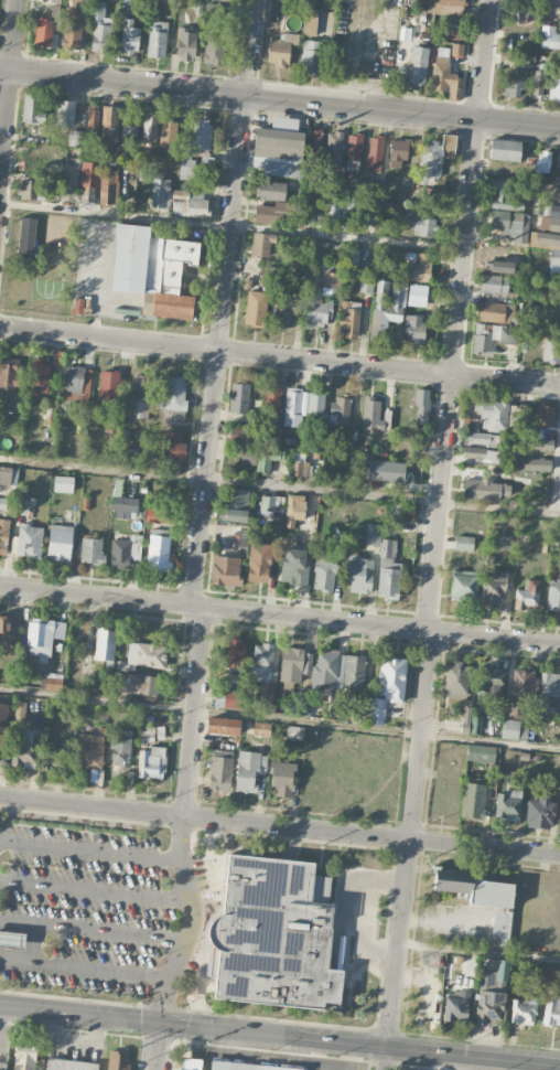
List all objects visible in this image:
building: (171, 0)
road: (552, 0)
building: (80, 1)
building: (310, 1)
building: (55, 4)
building: (214, 11)
building: (517, 14)
building: (451, 19)
building: (310, 22)
building: (100, 29)
building: (43, 30)
building: (72, 34)
building: (550, 35)
building: (157, 39)
building: (129, 40)
building: (186, 44)
building: (457, 49)
building: (279, 50)
building: (214, 51)
building: (310, 56)
road: (484, 60)
building: (417, 64)
building: (444, 77)
building: (538, 84)
building: (554, 85)
building: (510, 86)
road: (9, 90)
road: (280, 97)
building: (29, 107)
building: (65, 113)
building: (91, 119)
building: (109, 124)
building: (129, 125)
building: (149, 128)
building: (168, 133)
building: (74, 138)
building: (202, 139)
building: (314, 141)
building: (277, 146)
building: (333, 148)
building: (398, 149)
building: (353, 150)
building: (505, 150)
building: (375, 152)
building: (435, 156)
building: (57, 159)
building: (33, 161)
building: (541, 162)
building: (185, 167)
building: (559, 169)
building: (79, 181)
building: (29, 189)
building: (108, 189)
building: (374, 189)
building: (524, 190)
building: (551, 192)
building: (503, 195)
building: (179, 199)
building: (270, 203)
building: (306, 206)
building: (334, 210)
building: (392, 210)
building: (365, 213)
building: (549, 221)
building: (421, 224)
building: (510, 224)
building: (29, 226)
road: (231, 226)
road: (229, 238)
building: (262, 244)
building: (554, 257)
building: (352, 259)
building: (418, 268)
building: (152, 270)
building: (331, 279)
building: (494, 283)
building: (366, 285)
building: (256, 308)
building: (387, 308)
building: (542, 308)
building: (317, 309)
building: (283, 310)
building: (495, 311)
building: (348, 319)
building: (413, 329)
building: (491, 336)
building: (551, 351)
road: (280, 357)
road: (452, 374)
building: (9, 381)
building: (39, 381)
building: (76, 383)
building: (108, 385)
building: (139, 396)
building: (239, 397)
building: (174, 398)
building: (272, 399)
building: (315, 405)
building: (421, 405)
building: (292, 406)
building: (340, 408)
building: (371, 413)
building: (515, 415)
building: (493, 416)
building: (546, 416)
building: (473, 425)
building: (110, 427)
building: (238, 434)
building: (482, 438)
building: (541, 445)
building: (174, 446)
building: (480, 453)
building: (249, 457)
building: (268, 459)
building: (534, 463)
building: (299, 467)
road: (103, 469)
building: (6, 475)
road: (206, 480)
building: (65, 483)
building: (483, 485)
road: (558, 494)
road: (383, 499)
building: (2, 503)
building: (234, 505)
building: (271, 505)
building: (294, 506)
building: (123, 507)
building: (406, 511)
building: (158, 514)
building: (373, 534)
building: (3, 535)
building: (28, 541)
building: (60, 543)
building: (463, 543)
road: (200, 544)
building: (93, 550)
building: (159, 550)
building: (120, 553)
building: (258, 563)
building: (293, 566)
building: (225, 568)
building: (388, 568)
building: (360, 574)
building: (323, 575)
building: (463, 585)
building: (494, 589)
building: (553, 593)
building: (527, 596)
road: (280, 614)
building: (7, 628)
building: (43, 636)
building: (105, 645)
building: (234, 651)
building: (144, 656)
building: (265, 662)
building: (294, 665)
building: (338, 672)
building: (454, 678)
building: (53, 681)
building: (491, 682)
building: (142, 684)
building: (388, 684)
building: (523, 692)
building: (549, 693)
building: (226, 697)
building: (6, 711)
road: (194, 711)
building: (116, 713)
building: (466, 719)
road: (279, 720)
building: (223, 725)
building: (261, 728)
building: (514, 728)
building: (293, 732)
building: (23, 749)
building: (121, 750)
building: (481, 752)
building: (54, 755)
building: (89, 755)
building: (151, 762)
building: (220, 769)
building: (249, 771)
building: (354, 771)
building: (281, 778)
building: (473, 800)
building: (507, 804)
building: (540, 811)
road: (280, 826)
road: (410, 841)
road: (89, 850)
building: (481, 898)
road: (191, 922)
building: (471, 935)
building: (11, 938)
gas station: (11, 938)
building: (278, 938)
road: (480, 954)
building: (453, 966)
road: (83, 969)
building: (554, 973)
building: (491, 998)
building: (455, 1005)
building: (551, 1009)
building: (521, 1010)
road: (80, 1015)
traffic signals: (161, 1024)
road: (201, 1028)
road: (159, 1047)
road: (399, 1051)
building: (24, 1057)
building: (117, 1060)
road: (386, 1060)
building: (191, 1063)
building: (69, 1064)
building: (248, 1066)

